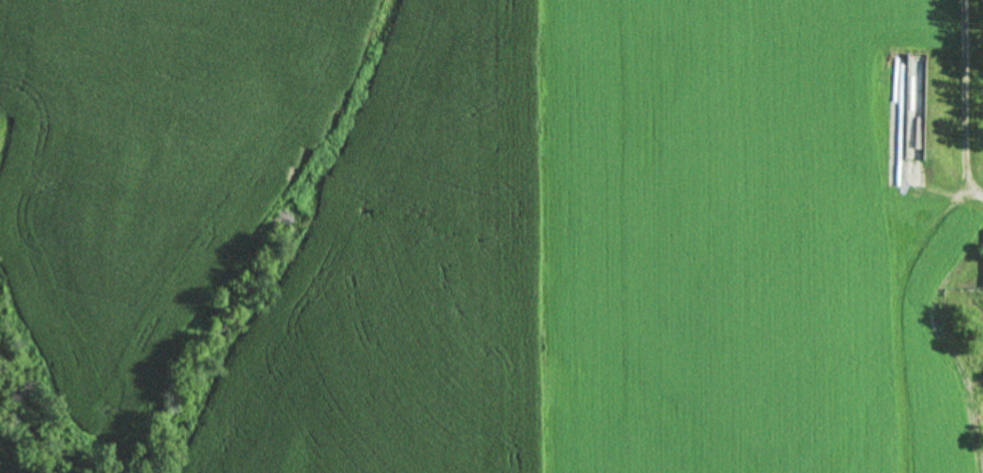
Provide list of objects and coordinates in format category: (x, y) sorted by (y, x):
building: (914, 100)
road: (965, 101)

